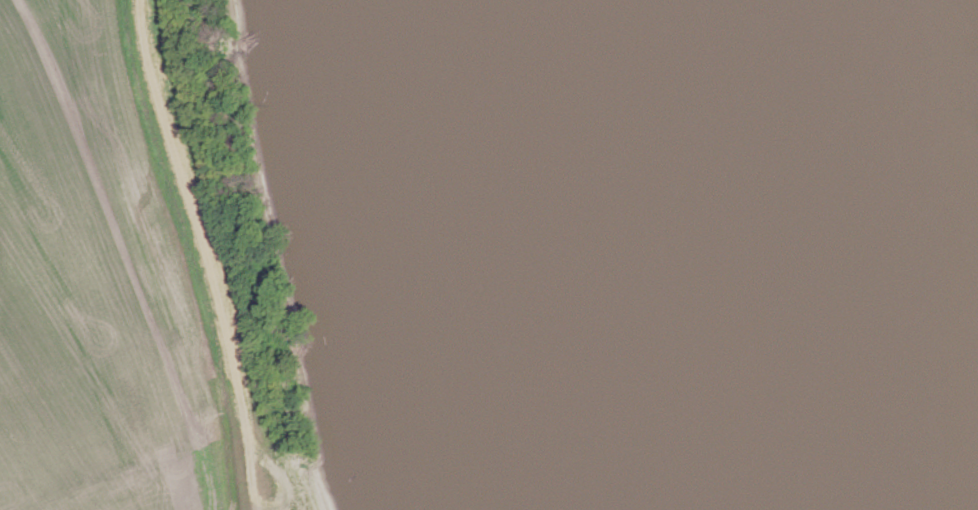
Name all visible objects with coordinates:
road: (210, 252)
river: (830, 255)
crop: (92, 286)

